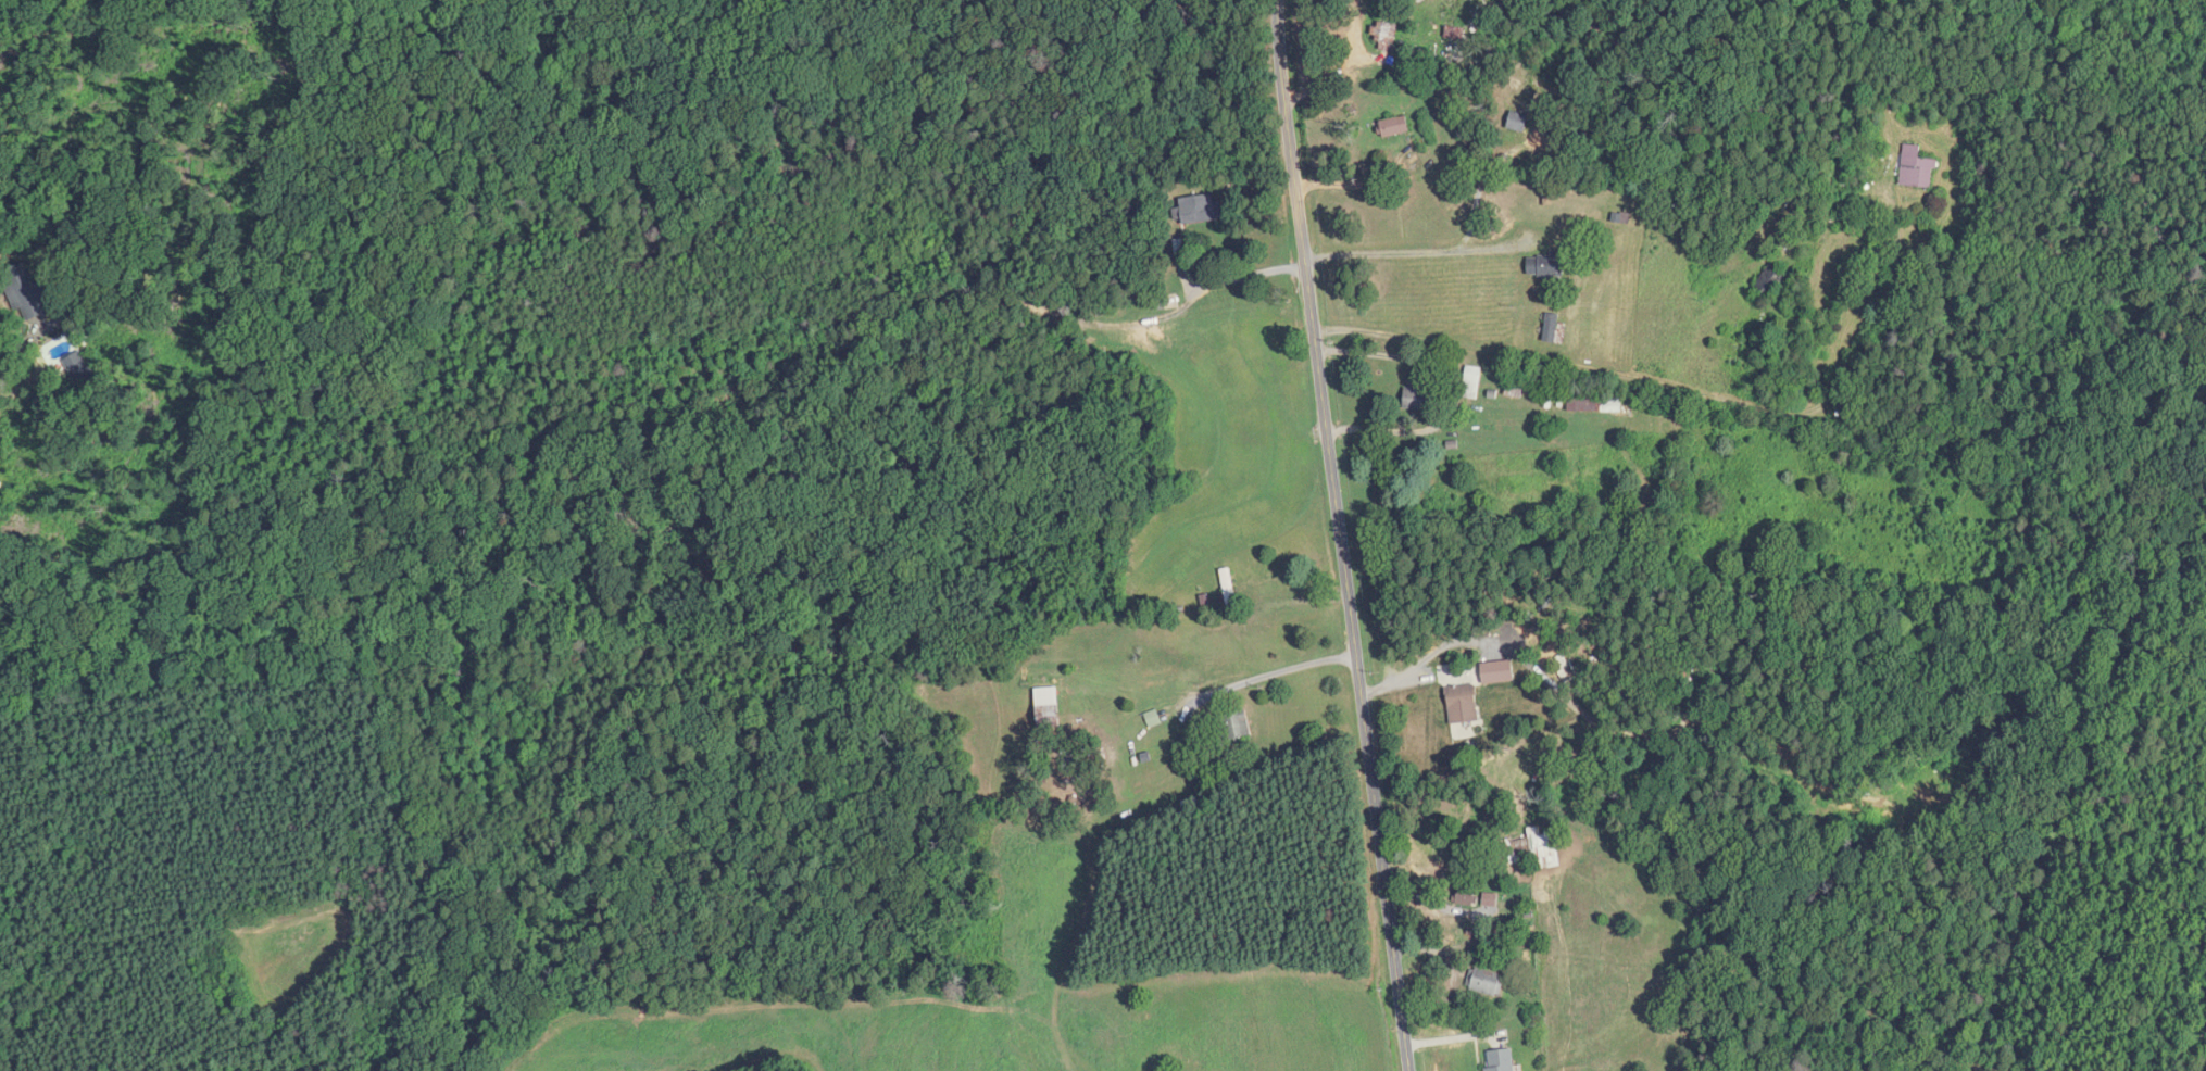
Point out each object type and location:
building: (1455, 34)
building: (1386, 36)
building: (1518, 122)
building: (1394, 126)
building: (1893, 161)
building: (1917, 168)
building: (1200, 209)
road: (1411, 253)
building: (1547, 265)
road: (1239, 276)
building: (1770, 280)
building: (25, 292)
building: (1552, 328)
road: (5, 352)
road: (1571, 365)
building: (1472, 382)
building: (1418, 393)
building: (1595, 402)
road: (1340, 535)
building: (1228, 587)
road: (1268, 676)
building: (1462, 704)
building: (1048, 711)
building: (1236, 726)
building: (1537, 847)
building: (1466, 895)
building: (1487, 983)
building: (1500, 1060)

